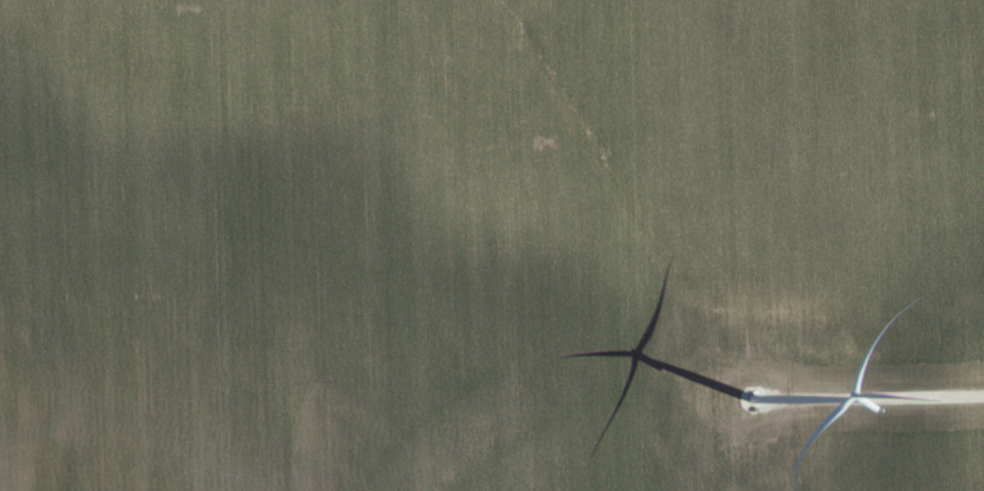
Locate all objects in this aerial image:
wind turbine: (747, 394)
road: (877, 396)

